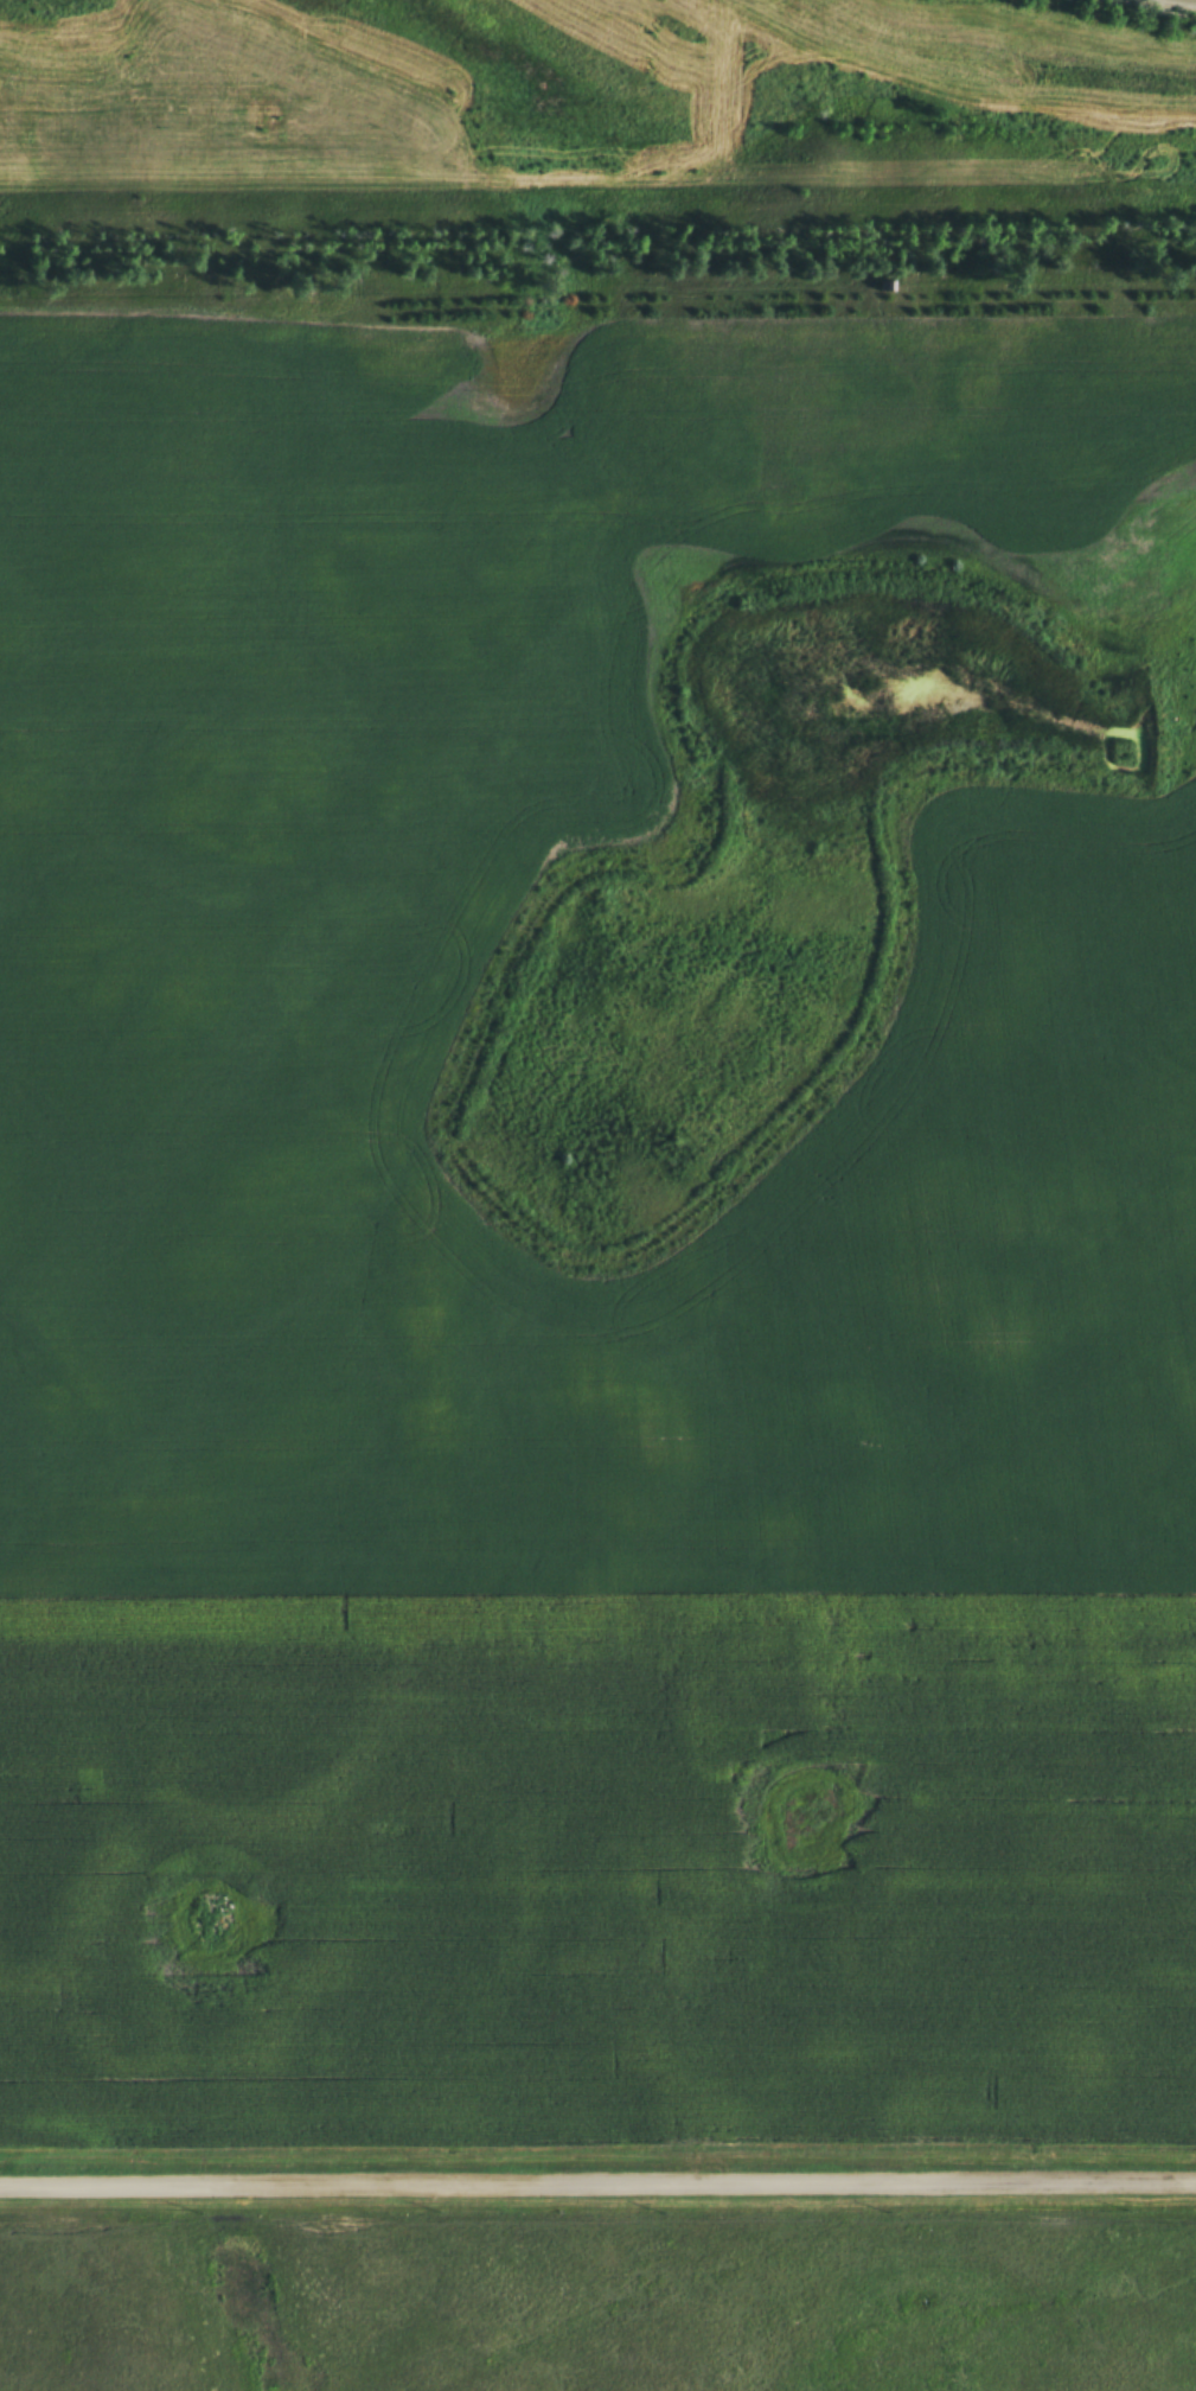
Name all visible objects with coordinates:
road: (597, 2179)

